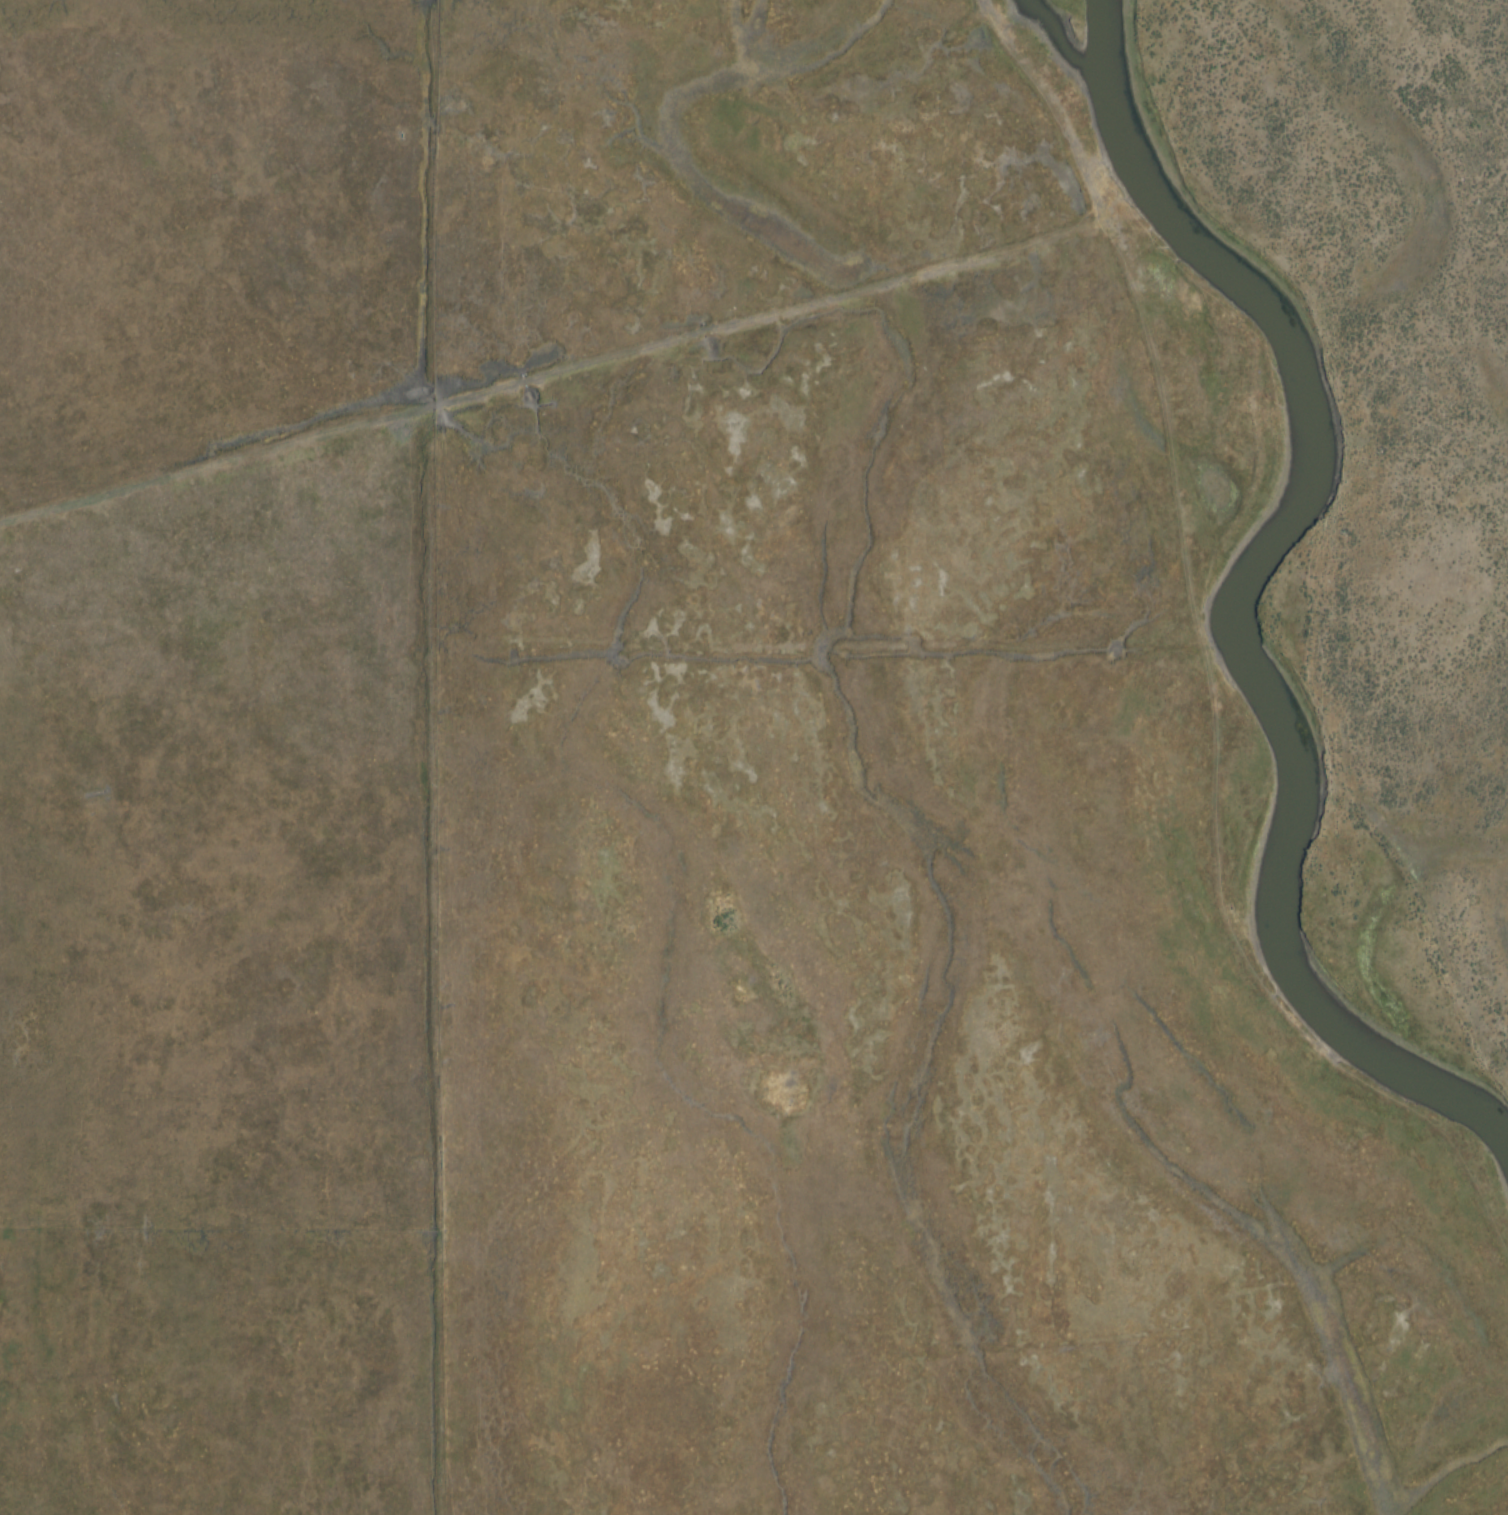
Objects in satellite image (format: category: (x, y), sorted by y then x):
road: (1049, 104)
road: (1111, 237)
road: (2, 943)

